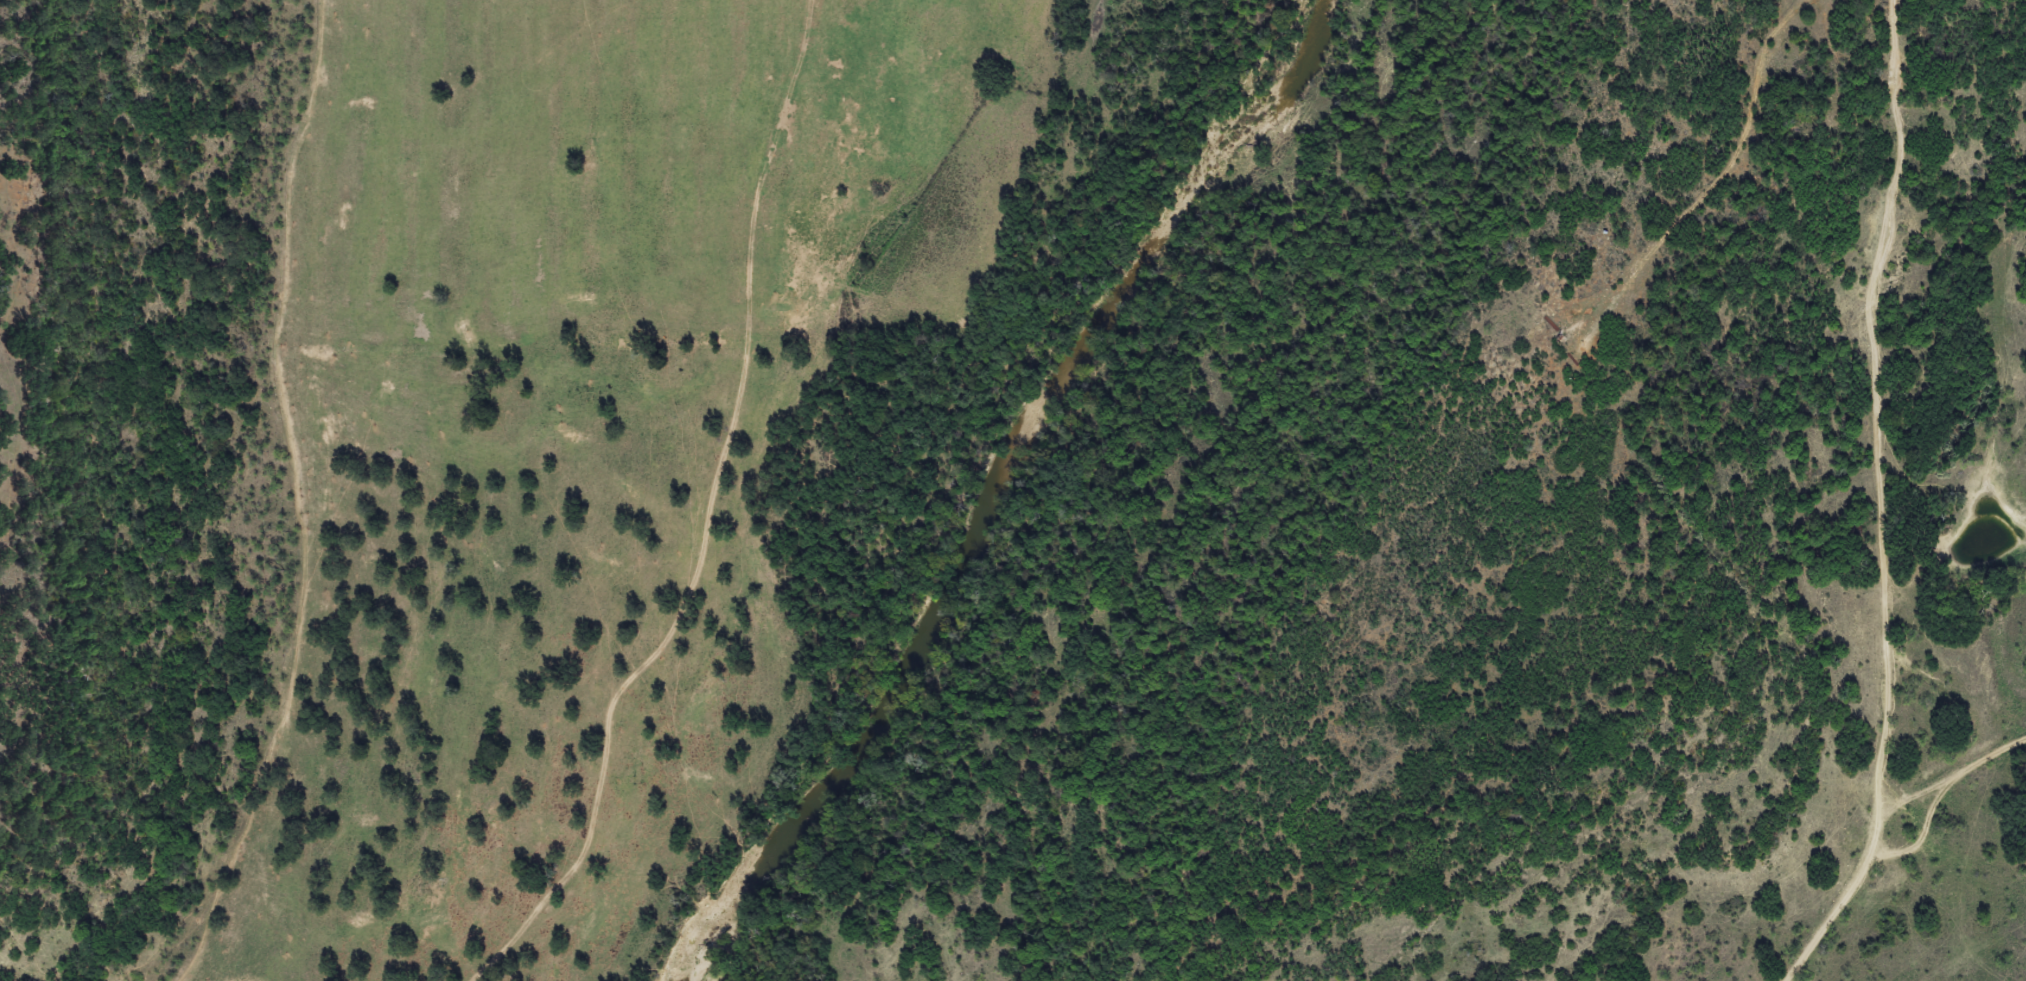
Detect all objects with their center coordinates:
road: (1906, 411)

